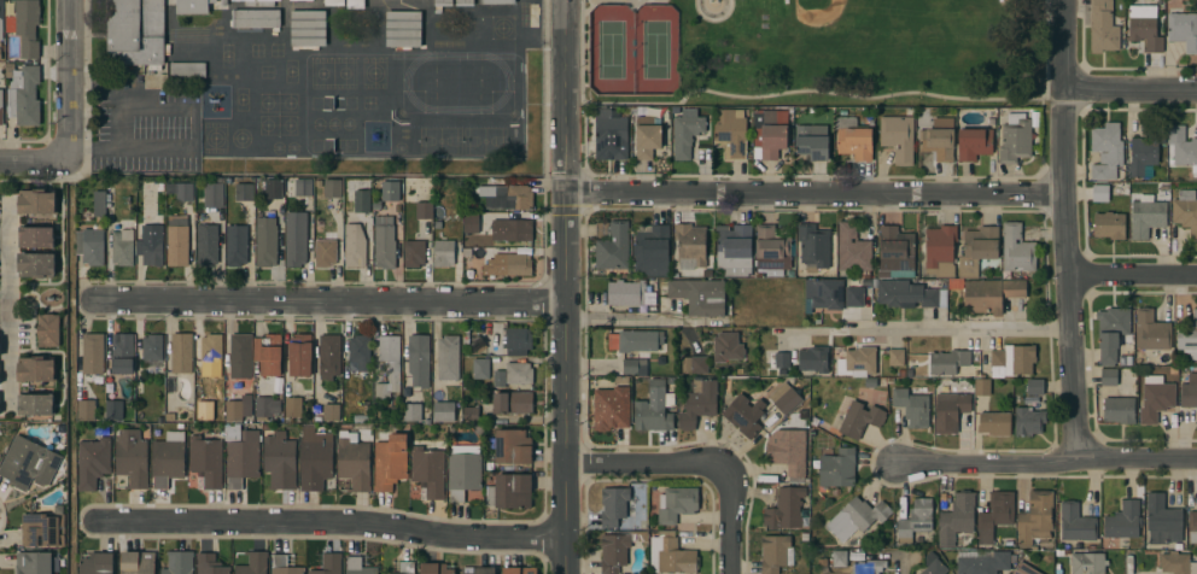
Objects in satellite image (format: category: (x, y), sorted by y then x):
building: (299, 0)
building: (497, 1)
building: (259, 2)
building: (334, 2)
building: (463, 2)
building: (442, 4)
building: (355, 5)
building: (1, 17)
building: (255, 18)
building: (10, 24)
building: (27, 27)
building: (1102, 27)
building: (1144, 28)
building: (146, 29)
building: (308, 29)
building: (403, 29)
building: (1183, 30)
building: (1, 49)
park: (632, 49)
park: (813, 53)
building: (10, 70)
building: (187, 70)
road: (65, 78)
road: (812, 90)
road: (1131, 90)
building: (24, 96)
building: (1, 107)
building: (924, 112)
road: (117, 117)
building: (684, 131)
building: (730, 133)
building: (769, 134)
building: (609, 135)
building: (647, 136)
building: (898, 137)
building: (936, 137)
building: (853, 139)
building: (1015, 139)
building: (811, 142)
building: (974, 143)
building: (1181, 148)
building: (1105, 151)
building: (1145, 153)
road: (31, 157)
building: (302, 187)
building: (332, 188)
building: (273, 189)
building: (180, 191)
building: (244, 192)
building: (390, 192)
building: (1099, 193)
building: (357, 194)
building: (214, 195)
building: (507, 197)
road: (816, 198)
building: (36, 201)
building: (100, 201)
building: (375, 205)
building: (424, 211)
building: (1185, 211)
building: (379, 212)
building: (1145, 216)
building: (471, 223)
building: (1109, 225)
road: (1069, 229)
building: (512, 230)
road: (4, 236)
building: (35, 236)
building: (296, 239)
building: (176, 240)
building: (265, 241)
building: (384, 242)
building: (206, 245)
building: (235, 245)
building: (356, 245)
building: (611, 245)
building: (690, 245)
building: (813, 245)
building: (89, 246)
building: (122, 247)
building: (151, 247)
building: (772, 247)
building: (650, 250)
building: (852, 250)
building: (940, 250)
building: (977, 250)
building: (1016, 250)
building: (413, 251)
building: (734, 251)
building: (325, 252)
building: (443, 253)
building: (895, 253)
building: (36, 264)
building: (508, 264)
road: (1134, 276)
building: (956, 285)
road: (567, 286)
building: (625, 292)
building: (858, 293)
building: (823, 294)
building: (905, 294)
building: (991, 294)
building: (699, 295)
road: (333, 304)
road: (8, 306)
road: (4, 307)
road: (617, 318)
building: (47, 329)
road: (923, 329)
building: (1151, 332)
building: (1110, 333)
building: (1187, 339)
building: (632, 340)
building: (516, 341)
building: (474, 344)
building: (152, 347)
building: (211, 347)
building: (726, 347)
building: (181, 352)
building: (360, 352)
building: (92, 353)
building: (122, 353)
building: (268, 353)
building: (299, 355)
building: (240, 356)
building: (327, 356)
building: (445, 357)
building: (895, 357)
building: (418, 359)
building: (781, 359)
building: (812, 361)
building: (1012, 361)
building: (947, 362)
building: (857, 363)
building: (695, 364)
road: (68, 365)
building: (389, 365)
building: (630, 365)
building: (480, 368)
building: (36, 369)
building: (642, 370)
building: (518, 373)
building: (1108, 376)
building: (498, 380)
building: (620, 380)
building: (869, 383)
building: (210, 386)
building: (981, 387)
building: (1034, 387)
building: (1189, 389)
building: (784, 398)
building: (1155, 398)
building: (513, 403)
building: (697, 403)
building: (35, 404)
building: (293, 406)
building: (265, 408)
building: (654, 408)
building: (911, 408)
building: (113, 409)
building: (611, 409)
building: (86, 410)
building: (238, 410)
building: (1119, 410)
building: (331, 411)
building: (446, 411)
building: (411, 412)
building: (950, 412)
building: (381, 414)
building: (471, 415)
building: (745, 415)
building: (170, 417)
building: (360, 418)
building: (859, 420)
building: (1028, 421)
building: (994, 423)
building: (233, 433)
building: (512, 446)
building: (789, 453)
building: (132, 458)
building: (168, 458)
building: (241, 458)
building: (315, 458)
building: (389, 459)
building: (206, 461)
building: (279, 461)
building: (352, 461)
road: (706, 461)
building: (28, 463)
building: (92, 463)
road: (1046, 464)
building: (837, 468)
building: (428, 471)
building: (462, 471)
building: (766, 478)
building: (508, 491)
building: (676, 504)
building: (623, 506)
building: (784, 509)
building: (994, 516)
building: (857, 517)
building: (957, 519)
building: (1034, 519)
building: (1161, 519)
building: (915, 520)
road: (334, 521)
building: (1122, 521)
building: (1075, 523)
building: (1192, 527)
building: (42, 529)
building: (613, 552)
building: (775, 552)
building: (670, 555)
building: (839, 558)
building: (179, 562)
building: (982, 562)
building: (35, 563)
building: (97, 563)
building: (138, 563)
building: (253, 563)
building: (933, 563)
building: (1087, 563)
building: (1176, 563)
building: (209, 564)
building: (328, 564)
road: (899, 564)
building: (284, 566)
building: (357, 567)
building: (869, 567)
building: (407, 568)
building: (436, 568)
building: (1023, 569)
building: (480, 570)
building: (519, 570)
building: (392, 573)
building: (916, 573)

